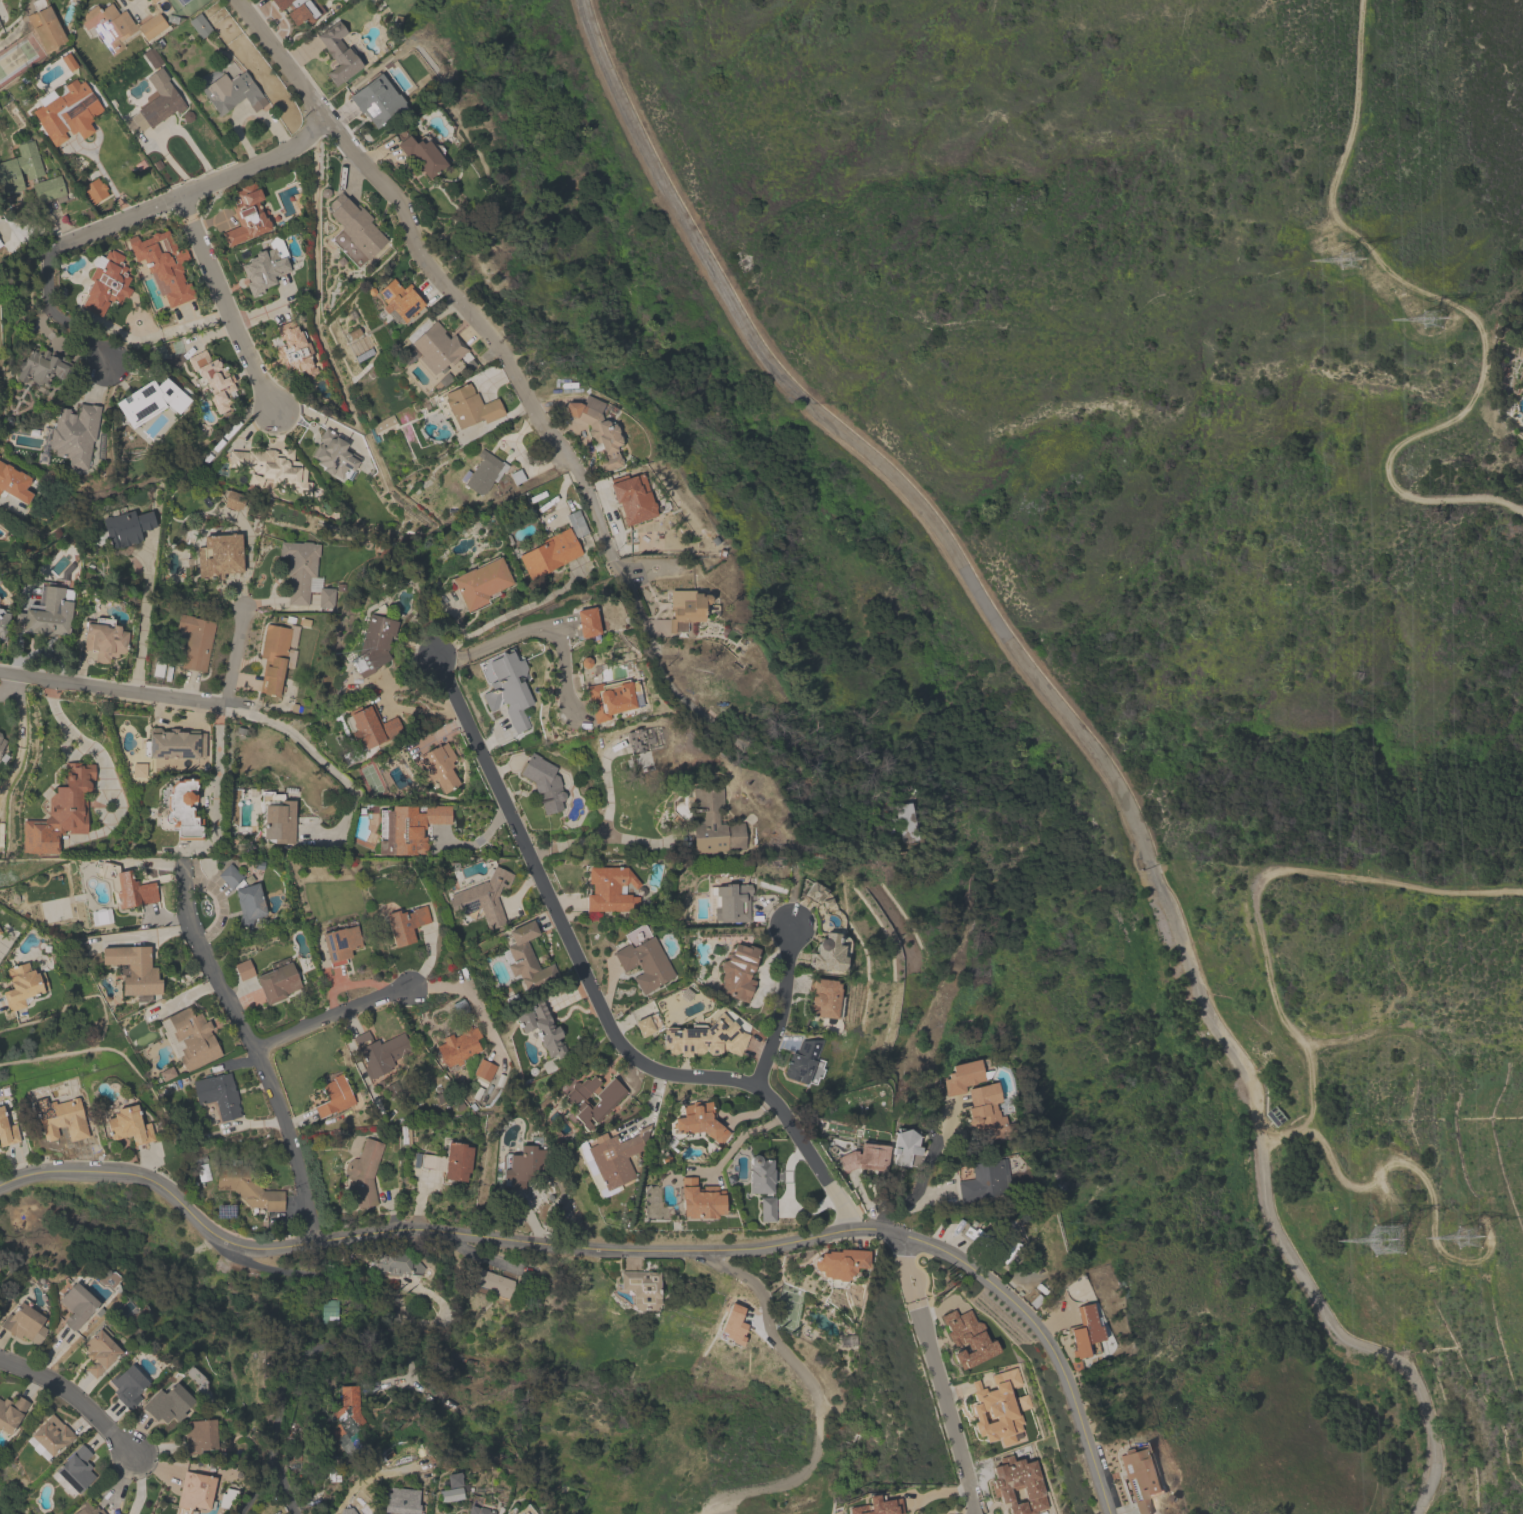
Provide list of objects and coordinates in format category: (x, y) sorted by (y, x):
building: (151, 1)
building: (298, 10)
building: (44, 25)
building: (117, 25)
building: (199, 25)
building: (337, 52)
building: (68, 61)
building: (231, 92)
building: (376, 100)
building: (155, 103)
building: (65, 110)
building: (422, 155)
building: (19, 167)
road: (102, 175)
building: (47, 189)
building: (94, 190)
road: (123, 214)
building: (245, 214)
building: (354, 225)
road: (406, 227)
road: (315, 259)
power tower: (1357, 261)
building: (163, 264)
building: (262, 269)
building: (105, 282)
building: (399, 299)
road: (223, 302)
road: (1454, 309)
power tower: (1438, 318)
building: (435, 347)
building: (293, 349)
building: (39, 366)
building: (213, 379)
building: (149, 401)
building: (466, 407)
building: (382, 423)
road: (233, 427)
building: (597, 430)
building: (73, 434)
building: (333, 454)
building: (273, 467)
building: (483, 472)
road: (542, 475)
building: (13, 483)
building: (632, 498)
building: (126, 527)
building: (549, 553)
building: (218, 555)
building: (298, 569)
building: (480, 582)
building: (684, 608)
building: (48, 611)
park: (1111, 612)
road: (505, 614)
road: (142, 615)
building: (587, 621)
building: (3, 623)
road: (538, 626)
building: (103, 639)
building: (194, 641)
building: (373, 641)
road: (233, 656)
building: (272, 658)
building: (507, 689)
building: (613, 697)
road: (227, 706)
building: (368, 725)
road: (1078, 731)
road: (83, 741)
building: (1, 742)
building: (175, 743)
road: (217, 765)
building: (437, 766)
building: (543, 782)
road: (608, 793)
building: (182, 809)
building: (60, 811)
building: (276, 818)
building: (713, 821)
building: (906, 823)
building: (406, 828)
road: (601, 835)
building: (609, 889)
building: (132, 890)
building: (813, 891)
building: (243, 896)
building: (481, 897)
building: (730, 902)
road: (1253, 906)
building: (405, 924)
building: (0, 932)
road: (161, 933)
road: (6, 941)
building: (339, 944)
building: (827, 953)
building: (525, 956)
building: (642, 958)
building: (133, 968)
building: (243, 969)
building: (737, 971)
building: (277, 982)
building: (21, 985)
road: (467, 992)
road: (188, 994)
road: (593, 994)
building: (821, 997)
road: (782, 1005)
road: (329, 1015)
building: (642, 1026)
building: (541, 1027)
building: (192, 1037)
building: (703, 1038)
building: (457, 1046)
road: (252, 1048)
building: (379, 1051)
building: (803, 1062)
building: (483, 1069)
building: (217, 1094)
building: (333, 1096)
building: (975, 1098)
building: (592, 1099)
road: (650, 1105)
road: (748, 1113)
building: (59, 1118)
building: (1277, 1119)
building: (698, 1121)
building: (128, 1125)
building: (7, 1131)
road: (740, 1135)
building: (864, 1157)
building: (612, 1158)
building: (449, 1161)
building: (523, 1165)
building: (362, 1173)
building: (759, 1174)
building: (984, 1179)
road: (917, 1189)
road: (1433, 1190)
building: (248, 1191)
road: (788, 1197)
building: (699, 1200)
road: (531, 1219)
power tower: (1481, 1230)
power tower: (1398, 1234)
building: (974, 1236)
road: (620, 1249)
building: (838, 1263)
building: (398, 1265)
building: (487, 1281)
building: (640, 1287)
building: (76, 1305)
building: (330, 1312)
building: (24, 1323)
building: (1083, 1330)
road: (369, 1335)
building: (966, 1337)
building: (98, 1352)
road: (936, 1373)
building: (127, 1385)
road: (811, 1385)
road: (74, 1397)
building: (167, 1403)
building: (996, 1408)
building: (10, 1412)
building: (345, 1418)
building: (50, 1435)
building: (198, 1435)
building: (75, 1469)
building: (1140, 1478)
road: (139, 1485)
building: (1018, 1486)
building: (194, 1491)
road: (258, 1495)
building: (400, 1500)
building: (876, 1506)
building: (86, 1509)
building: (479, 1510)

